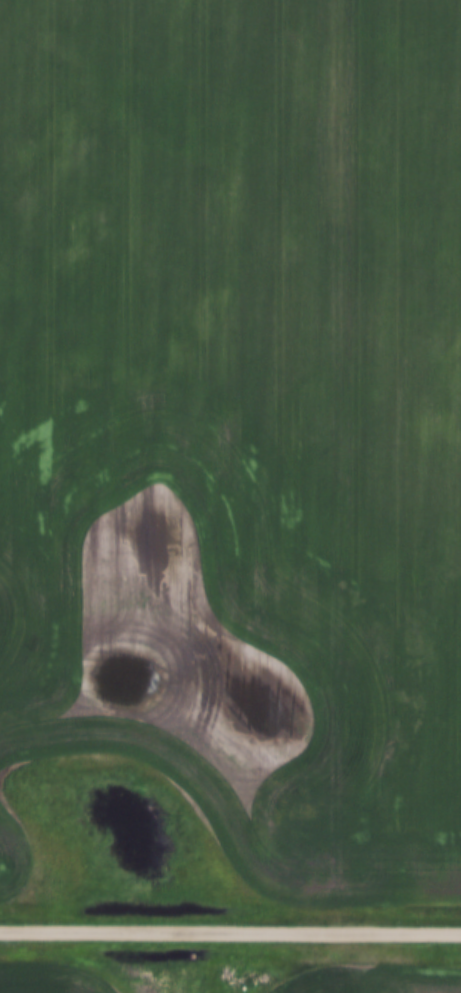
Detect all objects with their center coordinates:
road: (230, 929)

